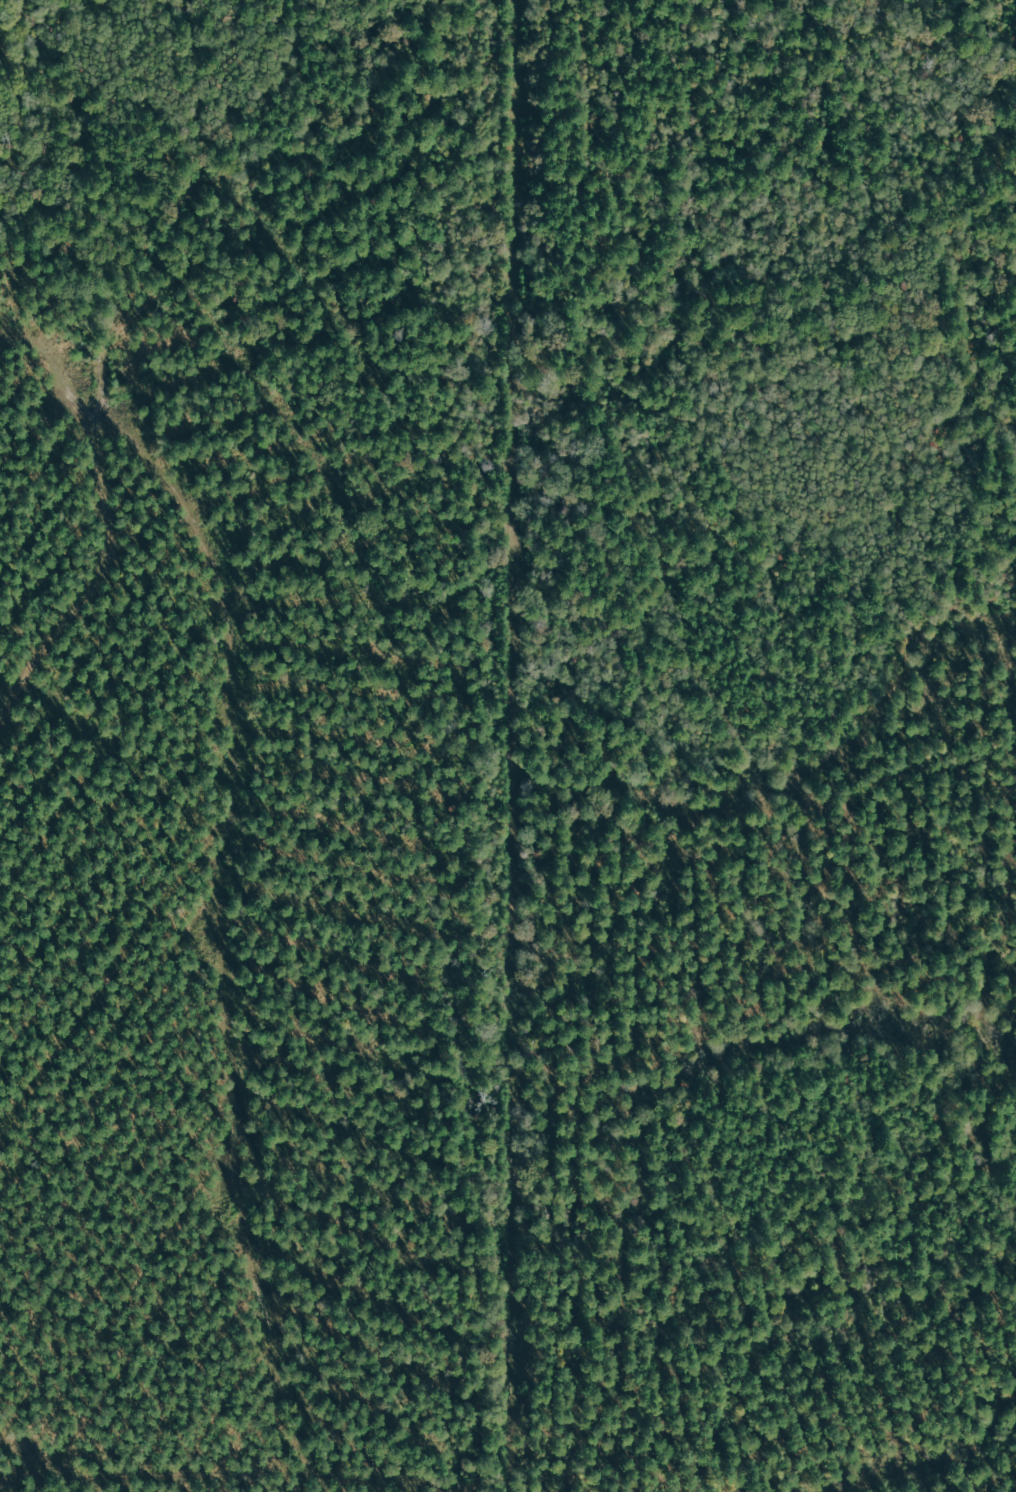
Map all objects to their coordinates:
road: (913, 1449)

